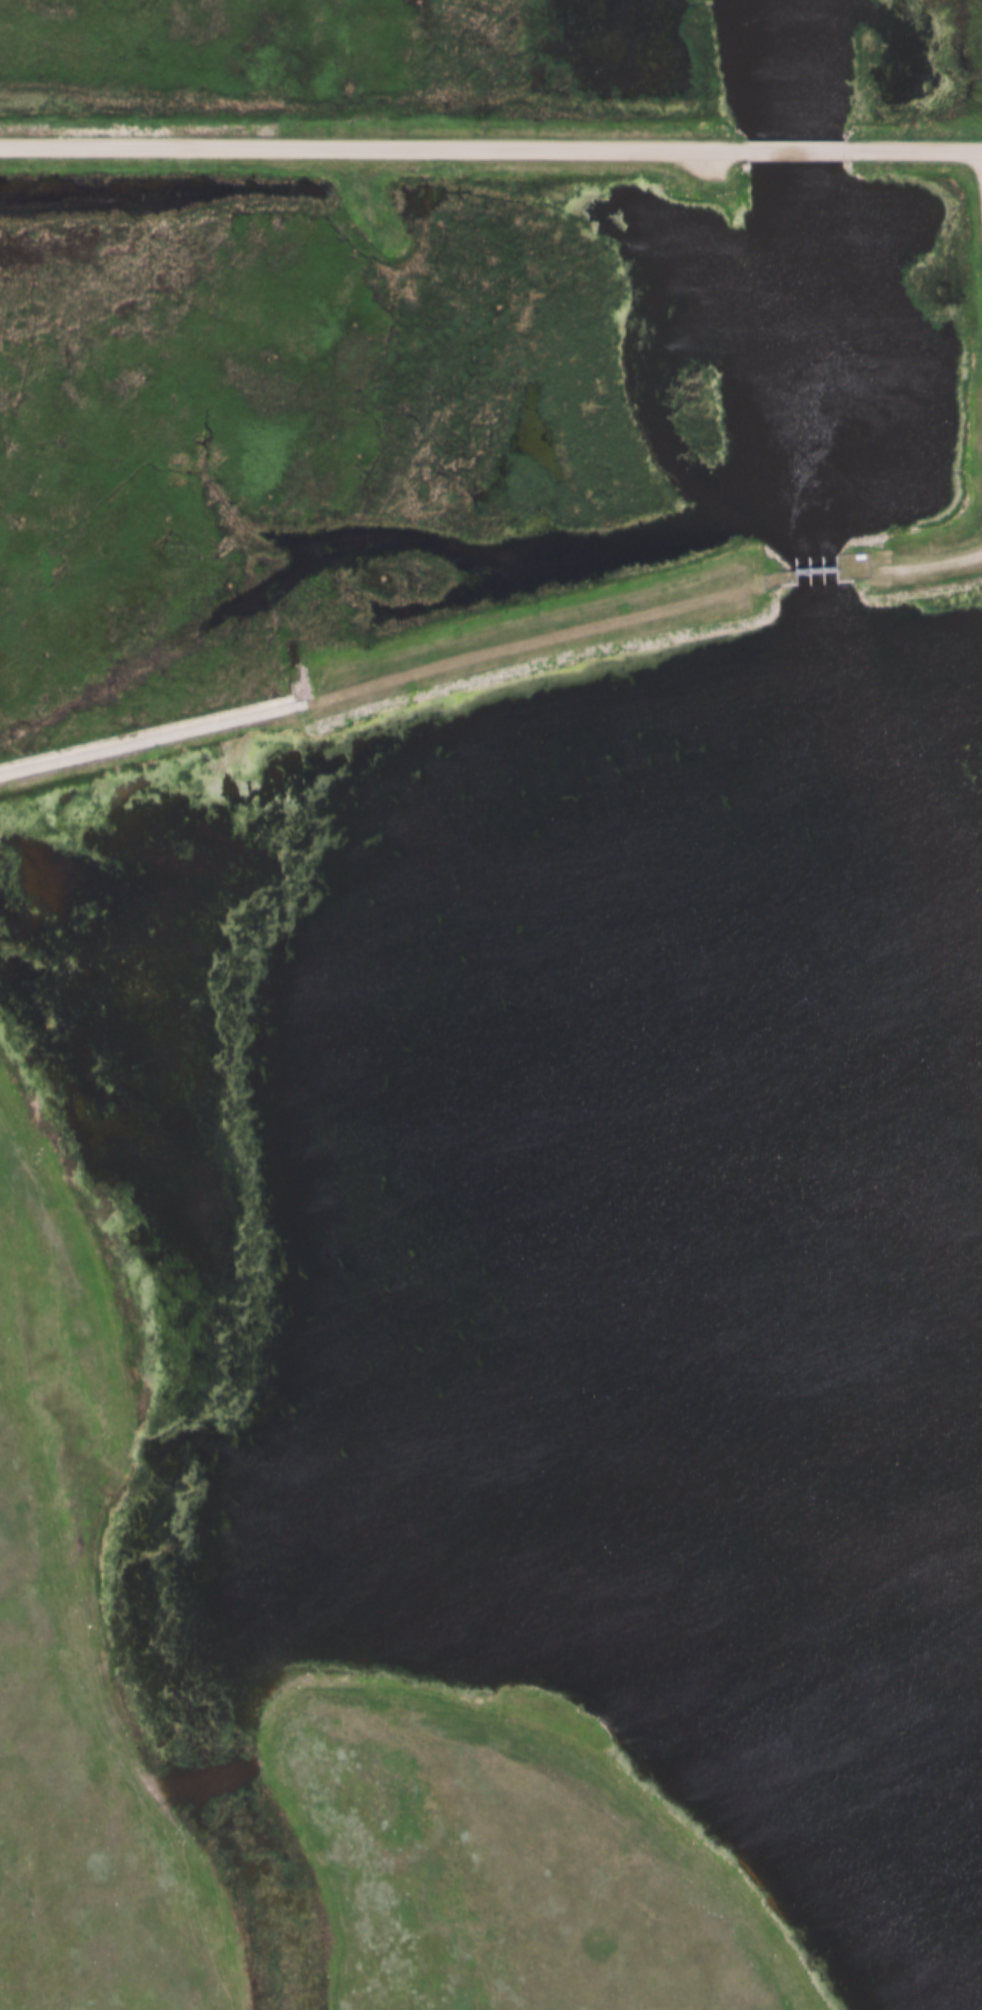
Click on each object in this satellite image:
road: (360, 144)
road: (783, 150)
road: (913, 152)
road: (980, 170)
road: (909, 562)
road: (813, 571)
river: (808, 580)
dam: (488, 657)
road: (396, 673)

